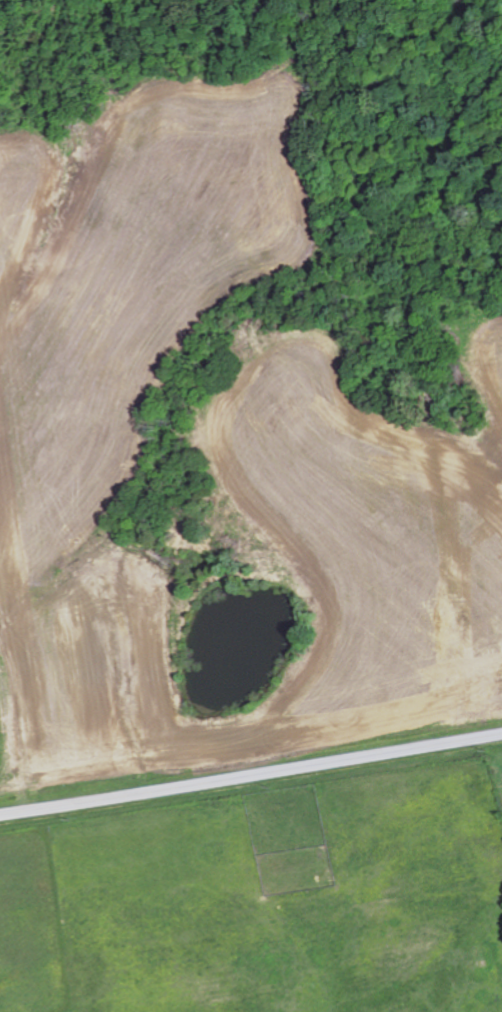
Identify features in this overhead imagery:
road: (251, 777)

